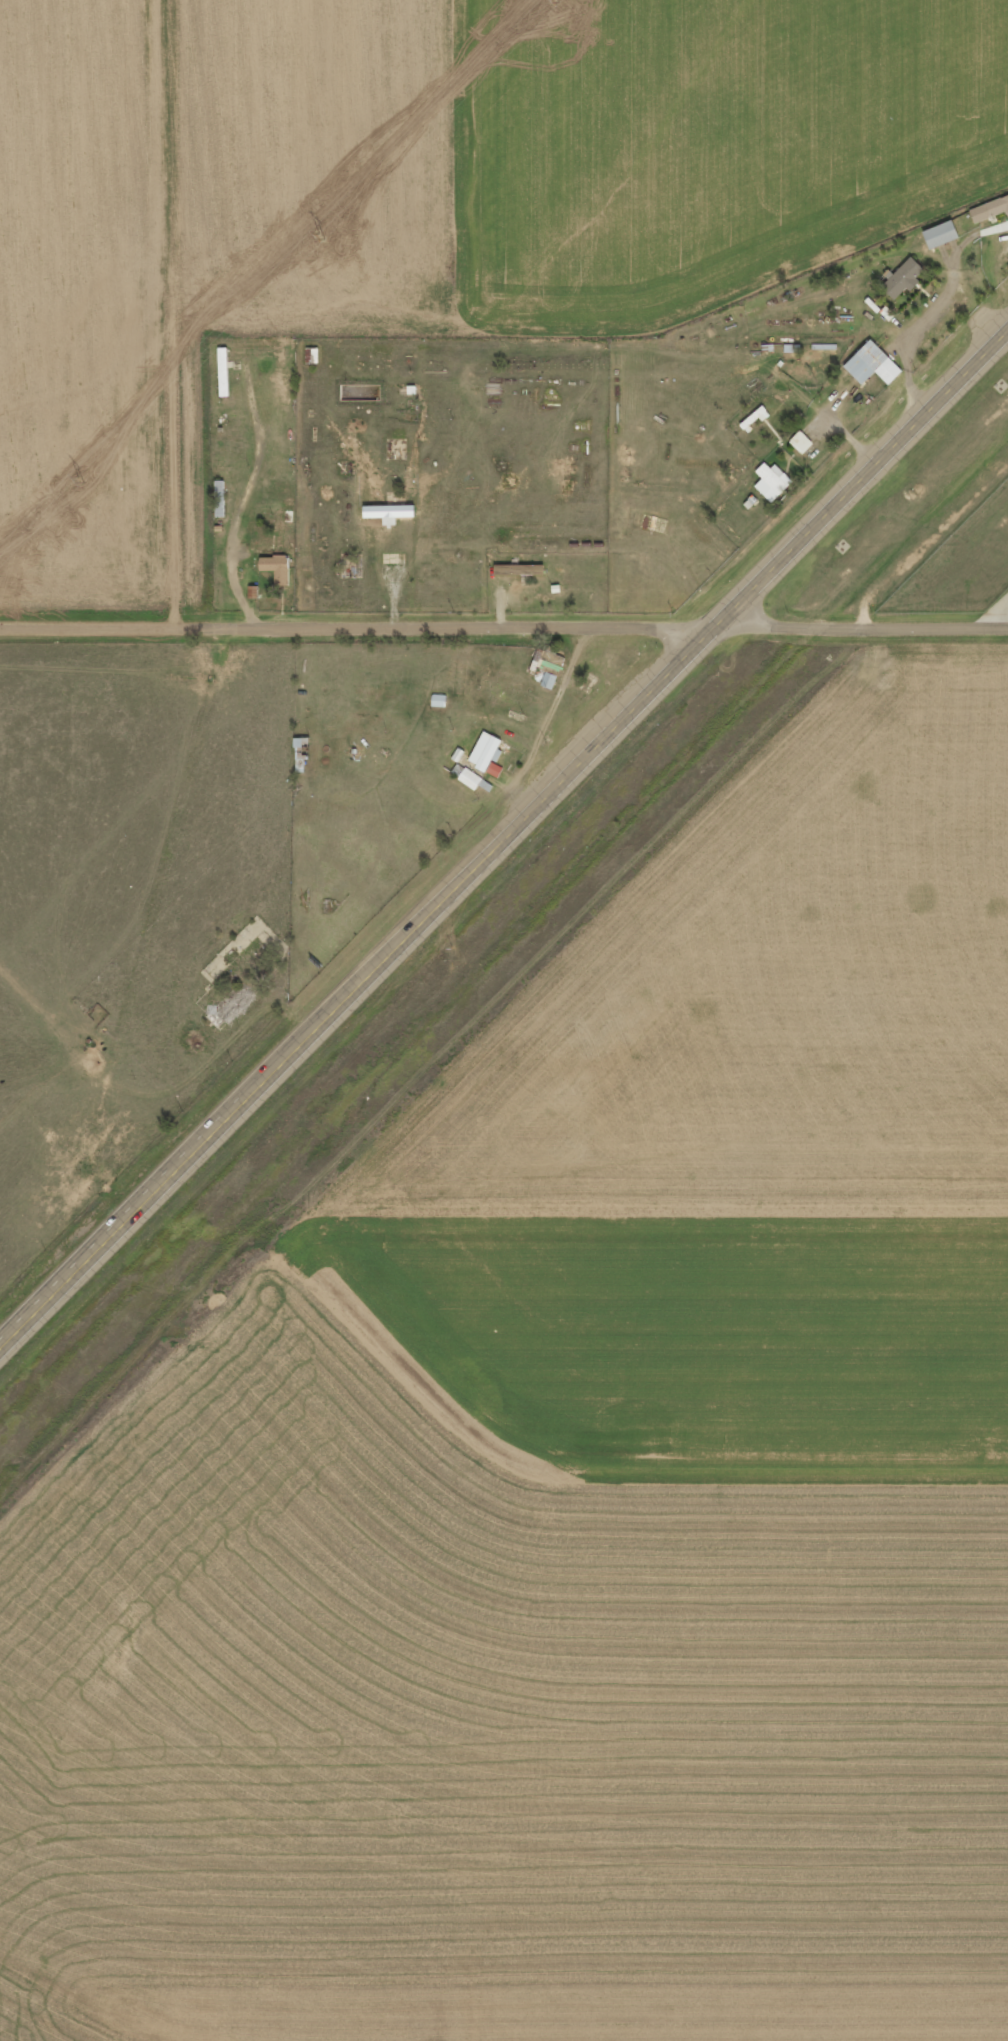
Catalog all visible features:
power tower: (553, 0)
building: (989, 208)
building: (938, 233)
power tower: (320, 237)
building: (902, 277)
road: (101, 313)
building: (870, 362)
building: (800, 441)
power tower: (79, 480)
building: (770, 480)
building: (386, 512)
building: (274, 566)
road: (504, 622)
building: (484, 750)
building: (493, 769)
building: (468, 777)
road: (503, 842)

